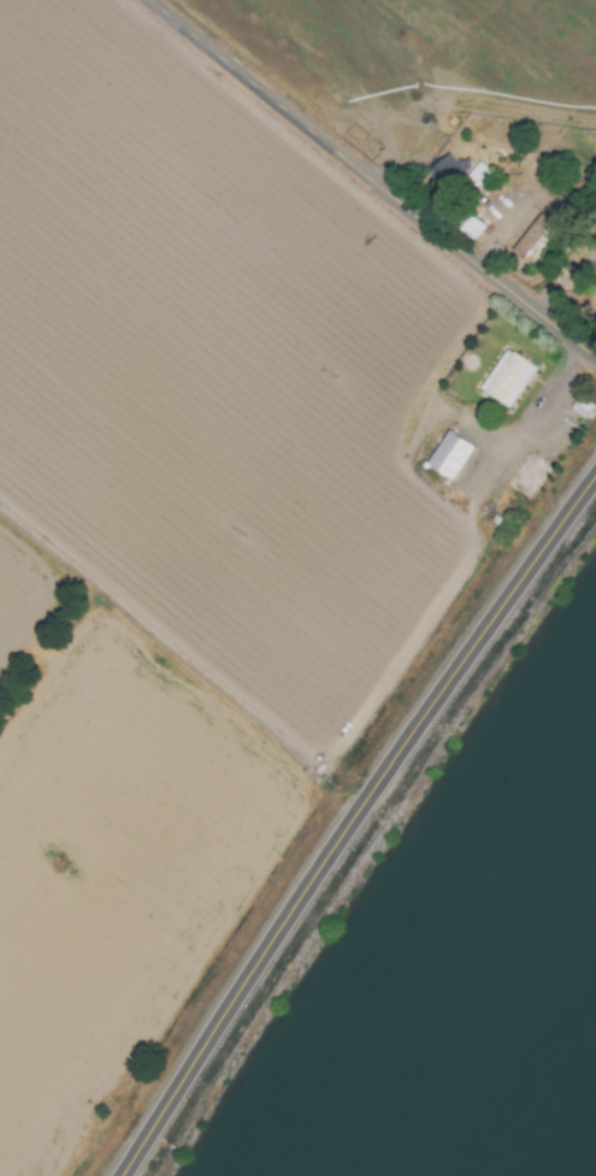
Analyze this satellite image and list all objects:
building: (449, 170)
road: (372, 180)
road: (486, 199)
building: (533, 237)
building: (507, 378)
building: (578, 408)
road: (533, 423)
building: (449, 455)
crop: (255, 480)
road: (347, 819)
river: (485, 1017)

